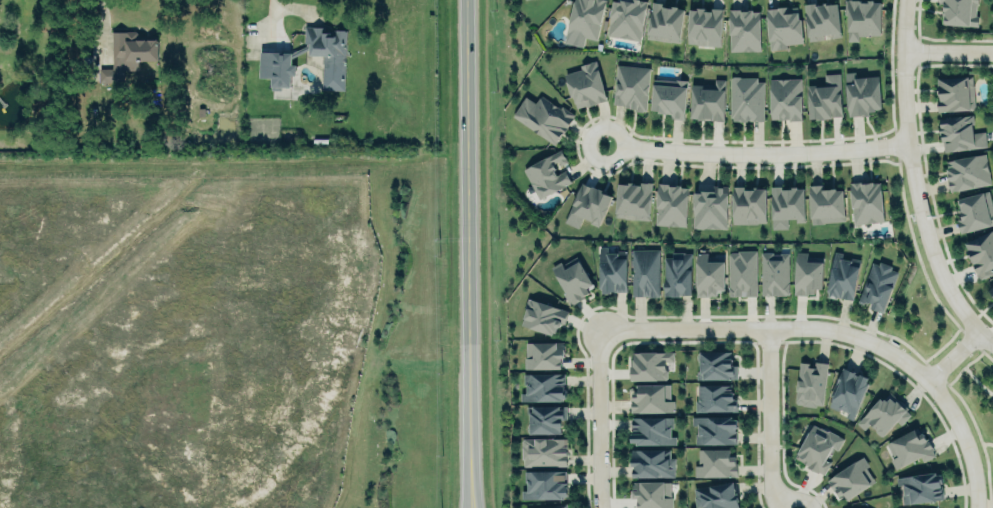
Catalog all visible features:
building: (960, 12)
building: (862, 18)
building: (585, 19)
building: (626, 19)
building: (822, 20)
road: (104, 21)
building: (665, 22)
building: (705, 26)
building: (784, 28)
building: (744, 30)
road: (947, 45)
building: (130, 50)
building: (275, 60)
building: (585, 85)
building: (631, 87)
building: (954, 93)
building: (863, 96)
building: (668, 97)
building: (825, 98)
building: (746, 99)
building: (786, 99)
building: (707, 100)
building: (543, 118)
building: (959, 134)
road: (746, 149)
building: (968, 172)
building: (547, 174)
road: (914, 181)
building: (633, 200)
building: (866, 203)
building: (671, 205)
building: (749, 205)
building: (825, 205)
building: (588, 206)
building: (787, 206)
building: (710, 208)
building: (975, 212)
road: (468, 254)
building: (981, 254)
building: (613, 270)
building: (645, 273)
building: (742, 273)
building: (677, 274)
building: (774, 274)
building: (807, 274)
building: (709, 277)
building: (842, 277)
building: (572, 279)
building: (878, 286)
building: (991, 291)
building: (542, 317)
road: (766, 325)
road: (952, 349)
building: (543, 355)
building: (650, 365)
building: (717, 366)
building: (810, 383)
building: (543, 386)
building: (848, 392)
building: (714, 397)
building: (652, 399)
building: (884, 414)
road: (594, 415)
road: (765, 418)
building: (546, 419)
building: (715, 429)
building: (652, 431)
road: (969, 434)
building: (816, 448)
building: (910, 449)
building: (544, 451)
building: (652, 463)
building: (715, 463)
building: (851, 479)
building: (544, 484)
building: (921, 487)
building: (652, 494)
building: (716, 496)
building: (552, 506)

